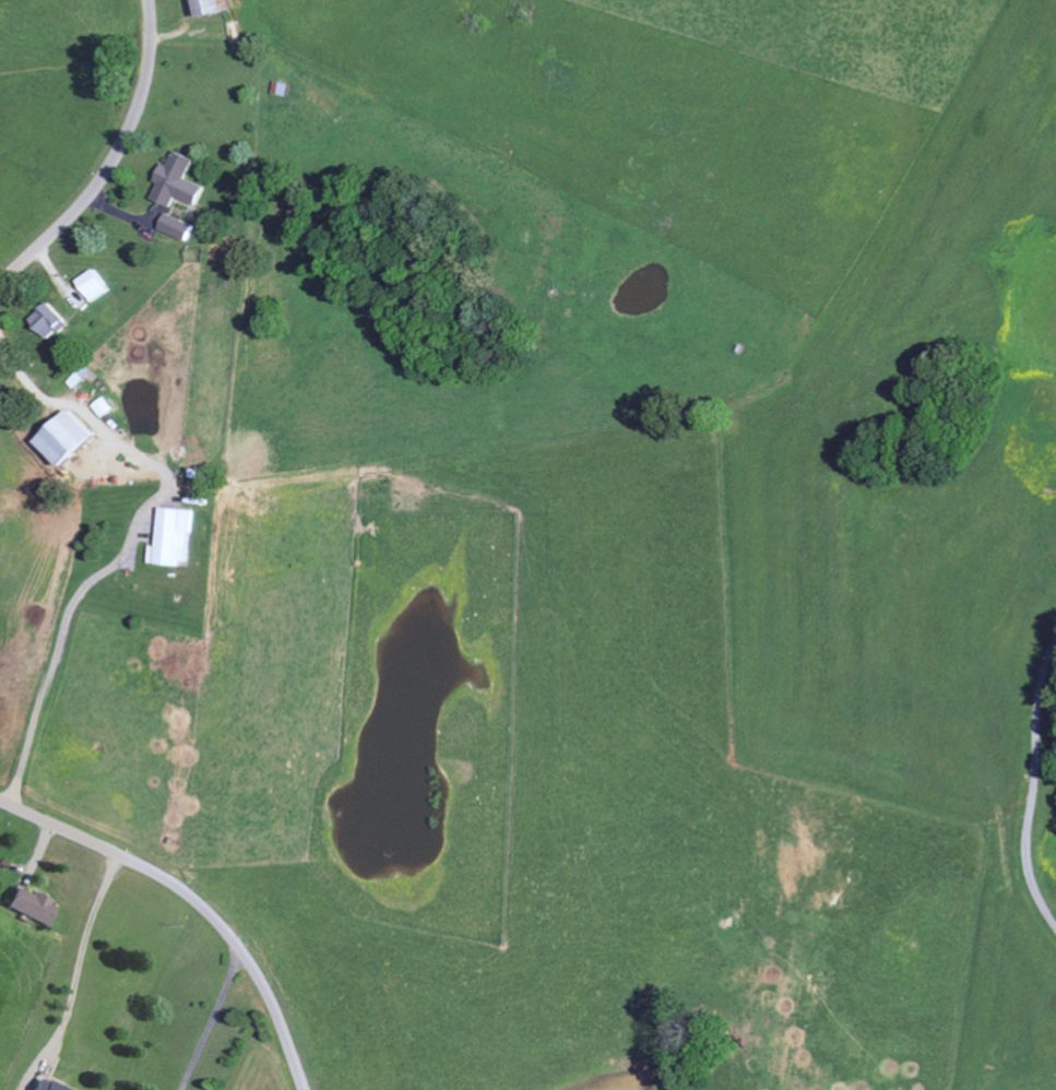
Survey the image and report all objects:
building: (216, 7)
road: (114, 161)
building: (179, 180)
building: (178, 225)
building: (96, 283)
building: (51, 319)
building: (68, 437)
building: (175, 536)
road: (1032, 786)
road: (195, 902)
building: (34, 903)
road: (82, 958)
road: (213, 1020)
building: (50, 1085)

